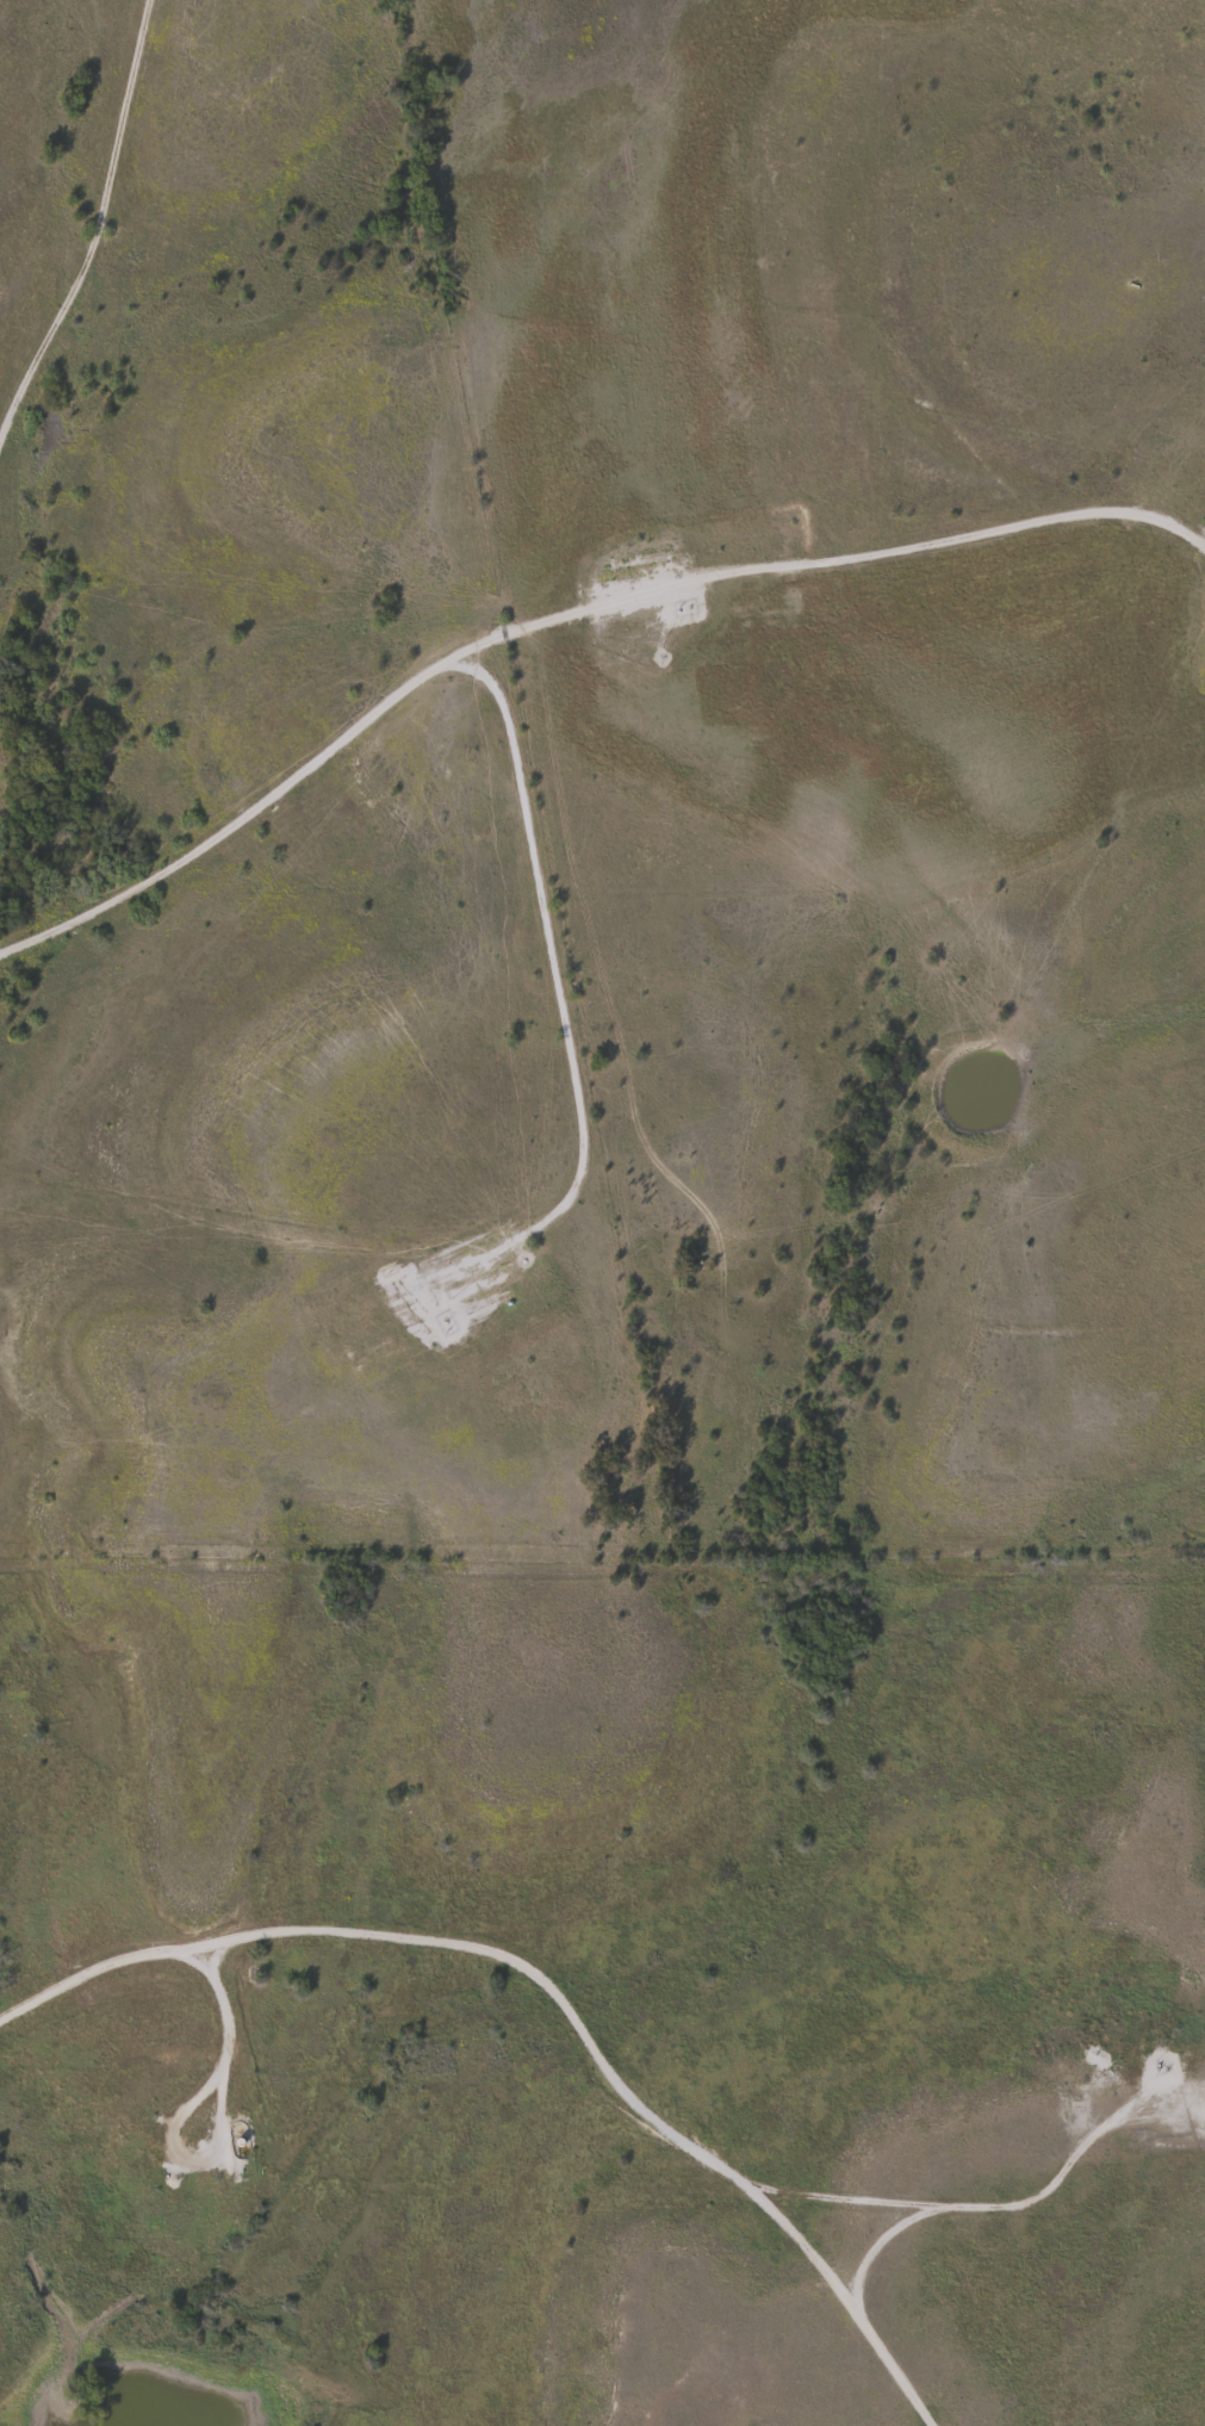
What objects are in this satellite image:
road: (94, 222)
road: (564, 618)
road: (95, 1975)
road: (604, 2079)

